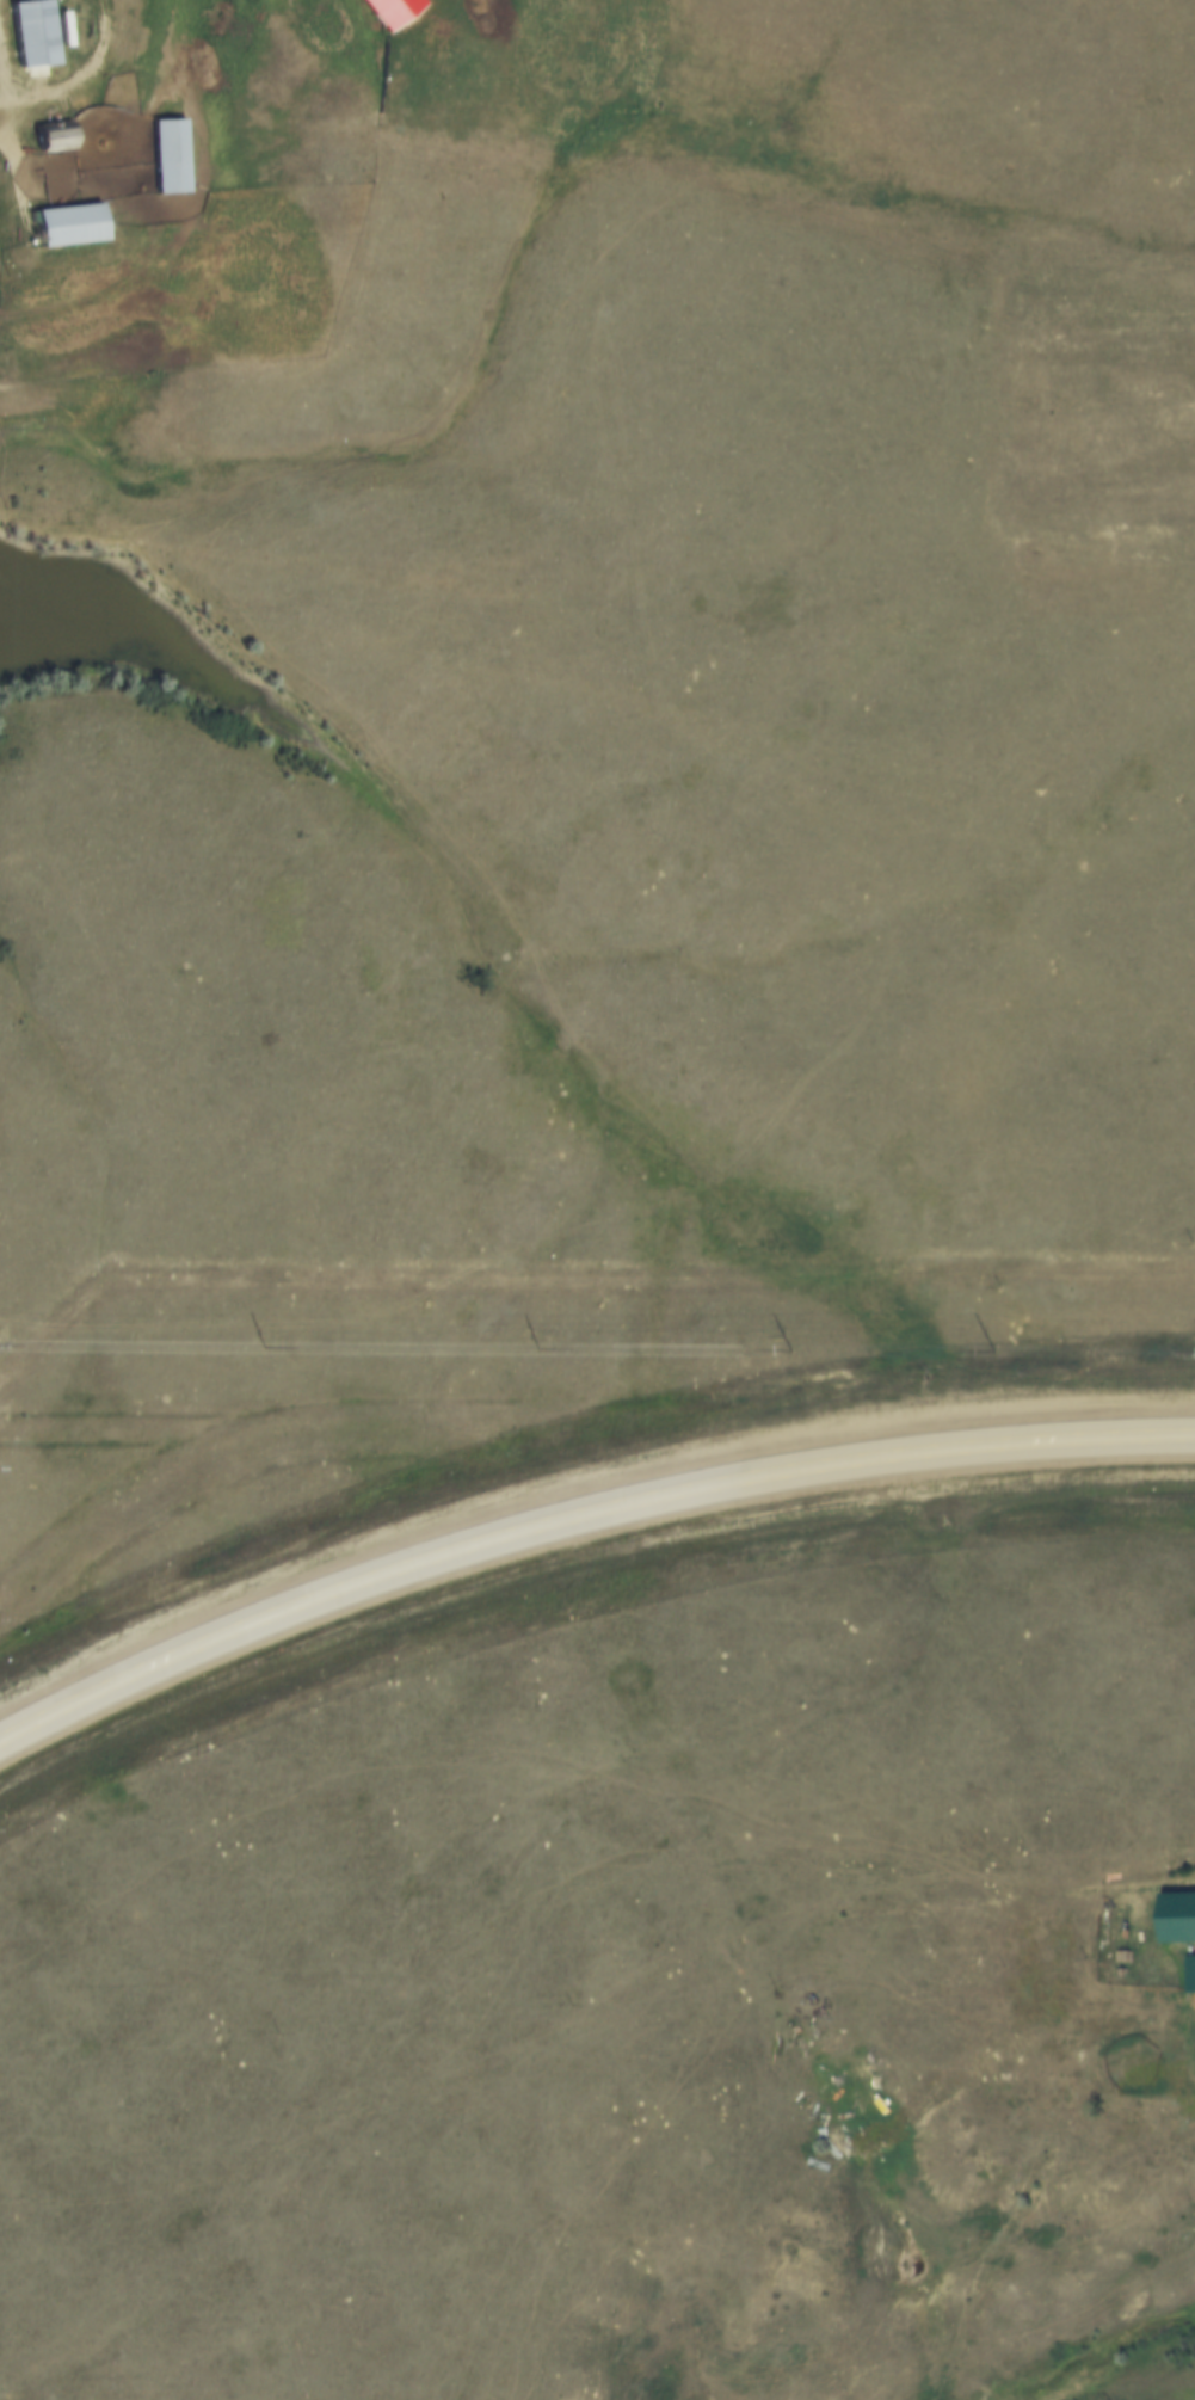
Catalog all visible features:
building: (33, 31)
building: (56, 136)
building: (171, 154)
road: (18, 177)
building: (70, 223)
road: (578, 1513)

